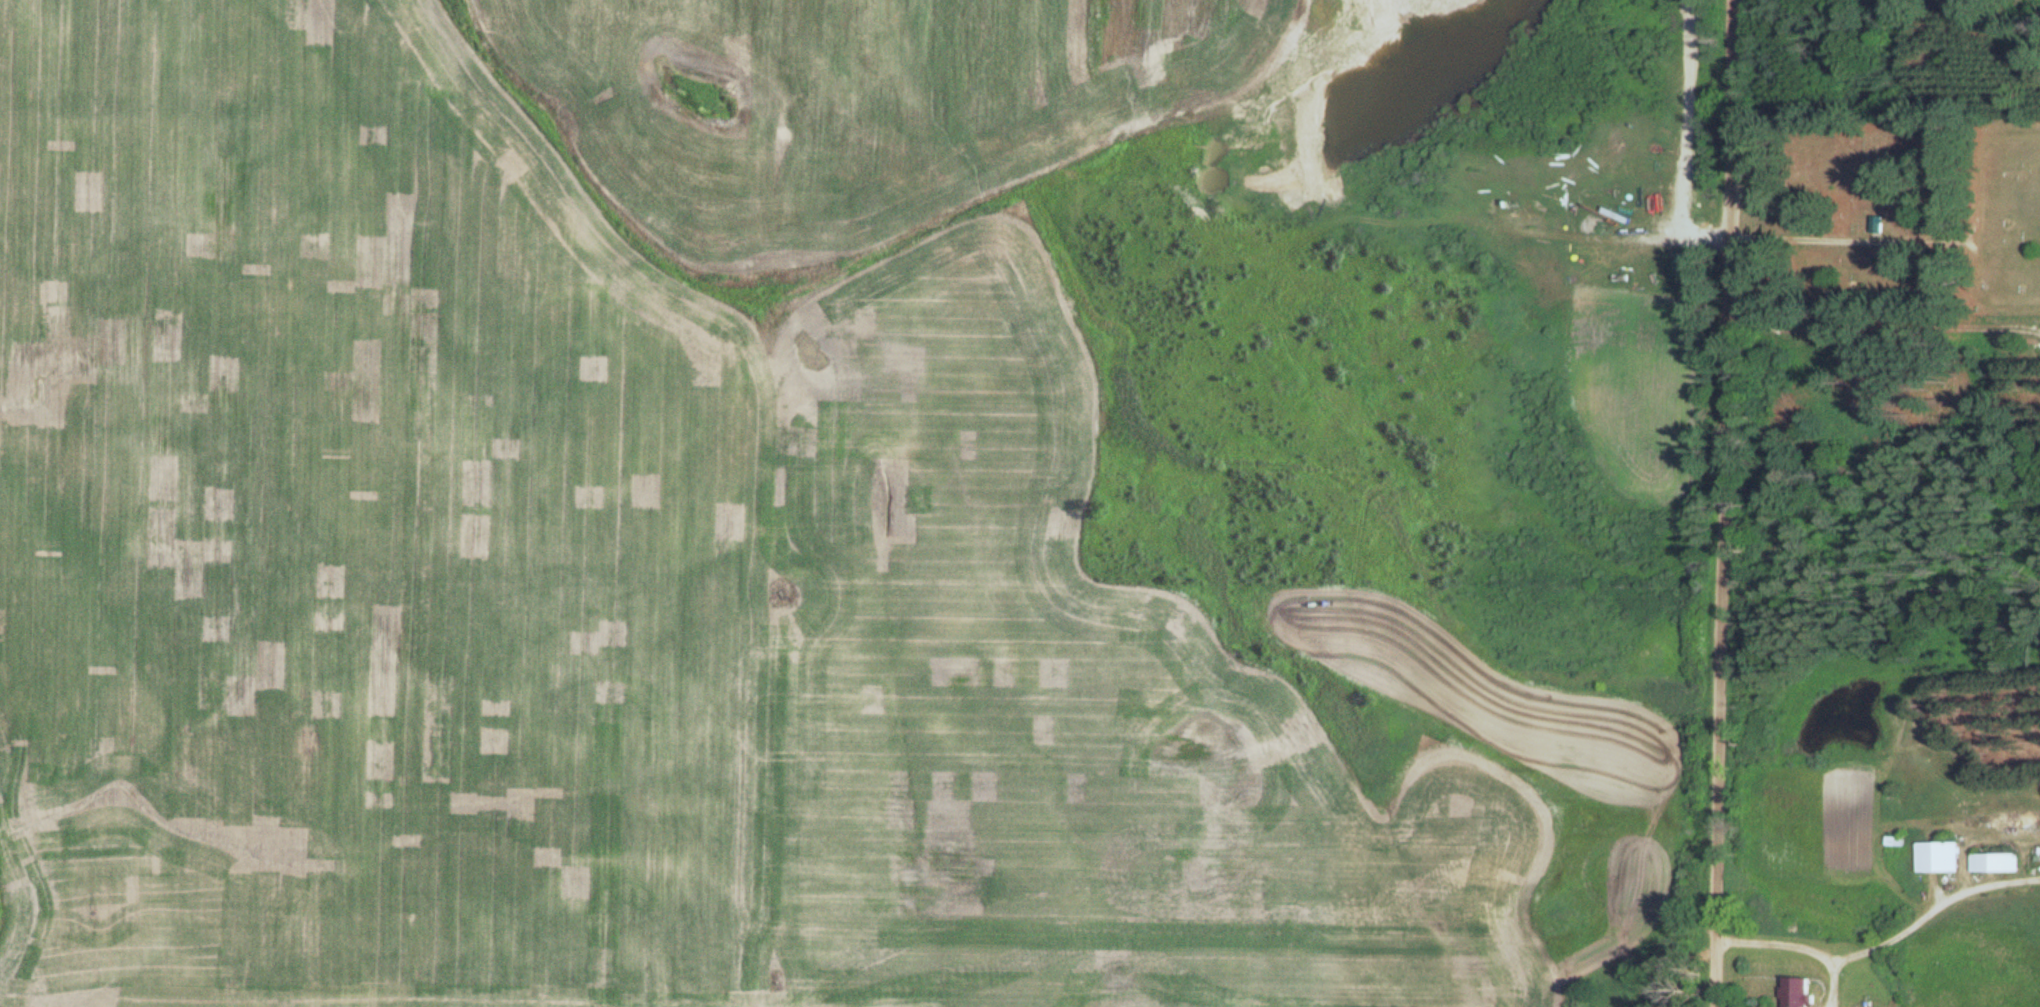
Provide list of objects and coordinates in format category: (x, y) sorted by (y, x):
road: (1726, 119)
park: (1889, 215)
road: (1978, 219)
building: (1877, 224)
road: (1851, 241)
road: (1713, 622)
building: (1937, 856)
building: (1993, 861)
building: (1798, 991)

